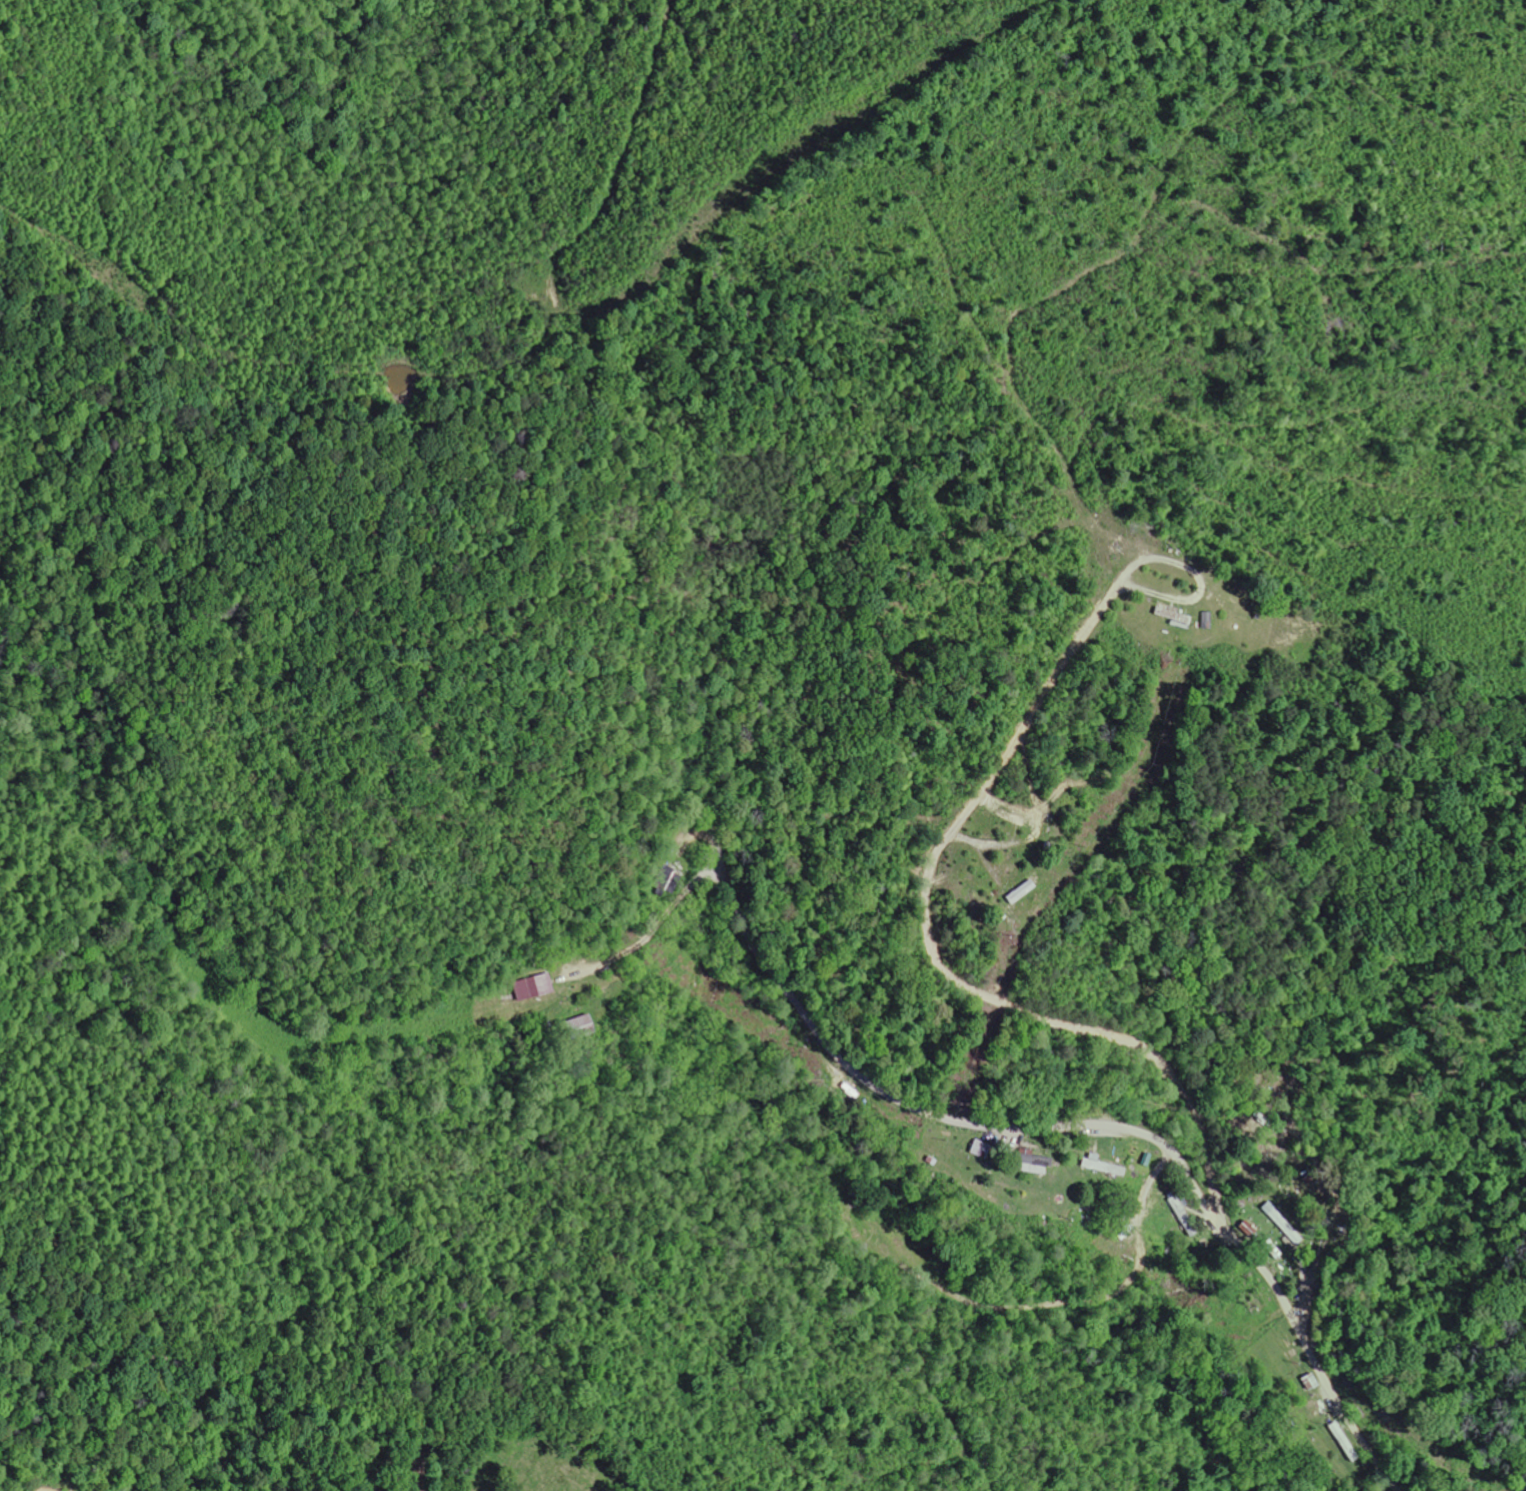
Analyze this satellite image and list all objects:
road: (927, 939)
building: (533, 988)
road: (1081, 1125)
building: (1092, 1165)
building: (1036, 1166)
building: (1182, 1218)
building: (1284, 1228)
building: (1248, 1230)

